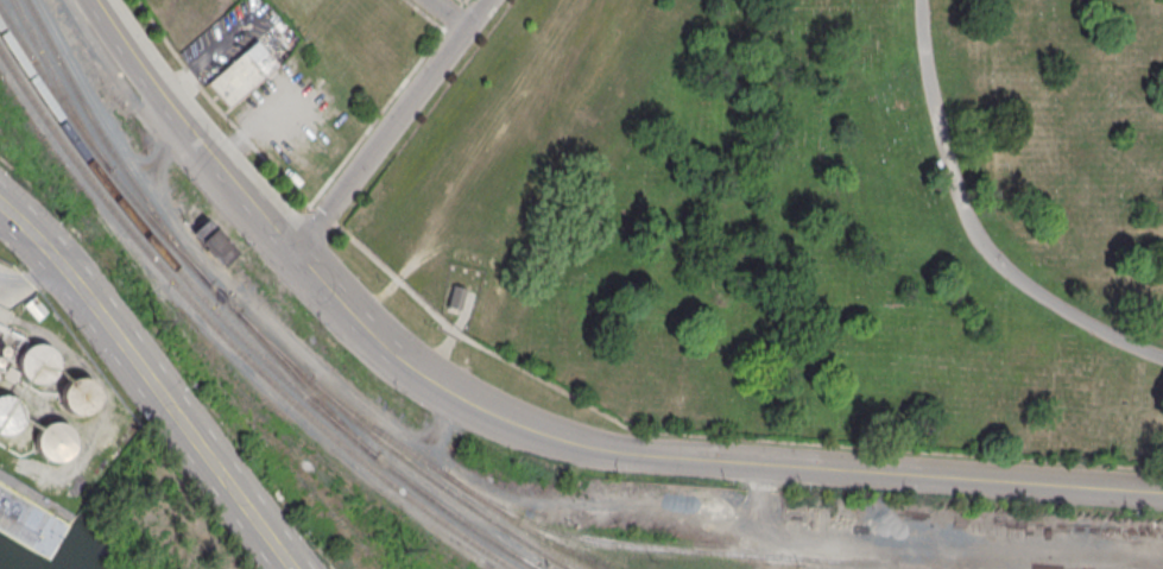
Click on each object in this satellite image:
road: (445, 14)
building: (242, 74)
railway: (59, 88)
road: (390, 125)
road: (190, 129)
railway: (107, 147)
park: (796, 222)
road: (975, 225)
building: (213, 242)
road: (330, 287)
building: (454, 298)
building: (34, 309)
railway: (248, 325)
power tower: (159, 327)
railway: (235, 330)
road: (453, 335)
railway: (226, 339)
building: (37, 365)
road: (152, 380)
road: (444, 385)
railway: (303, 387)
building: (77, 397)
building: (8, 415)
building: (53, 442)
road: (846, 470)
railway: (461, 486)
power tower: (403, 546)
railway: (739, 554)
railway: (531, 567)

